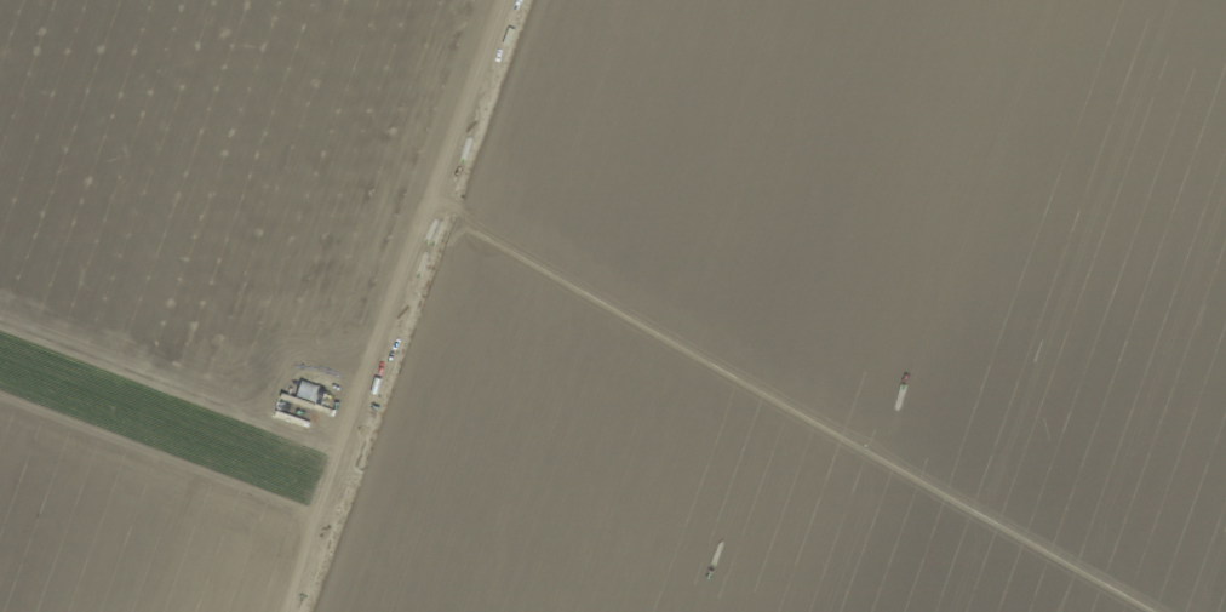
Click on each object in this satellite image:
road: (216, 120)
road: (391, 305)
crop: (613, 305)
road: (170, 385)
road: (156, 453)

